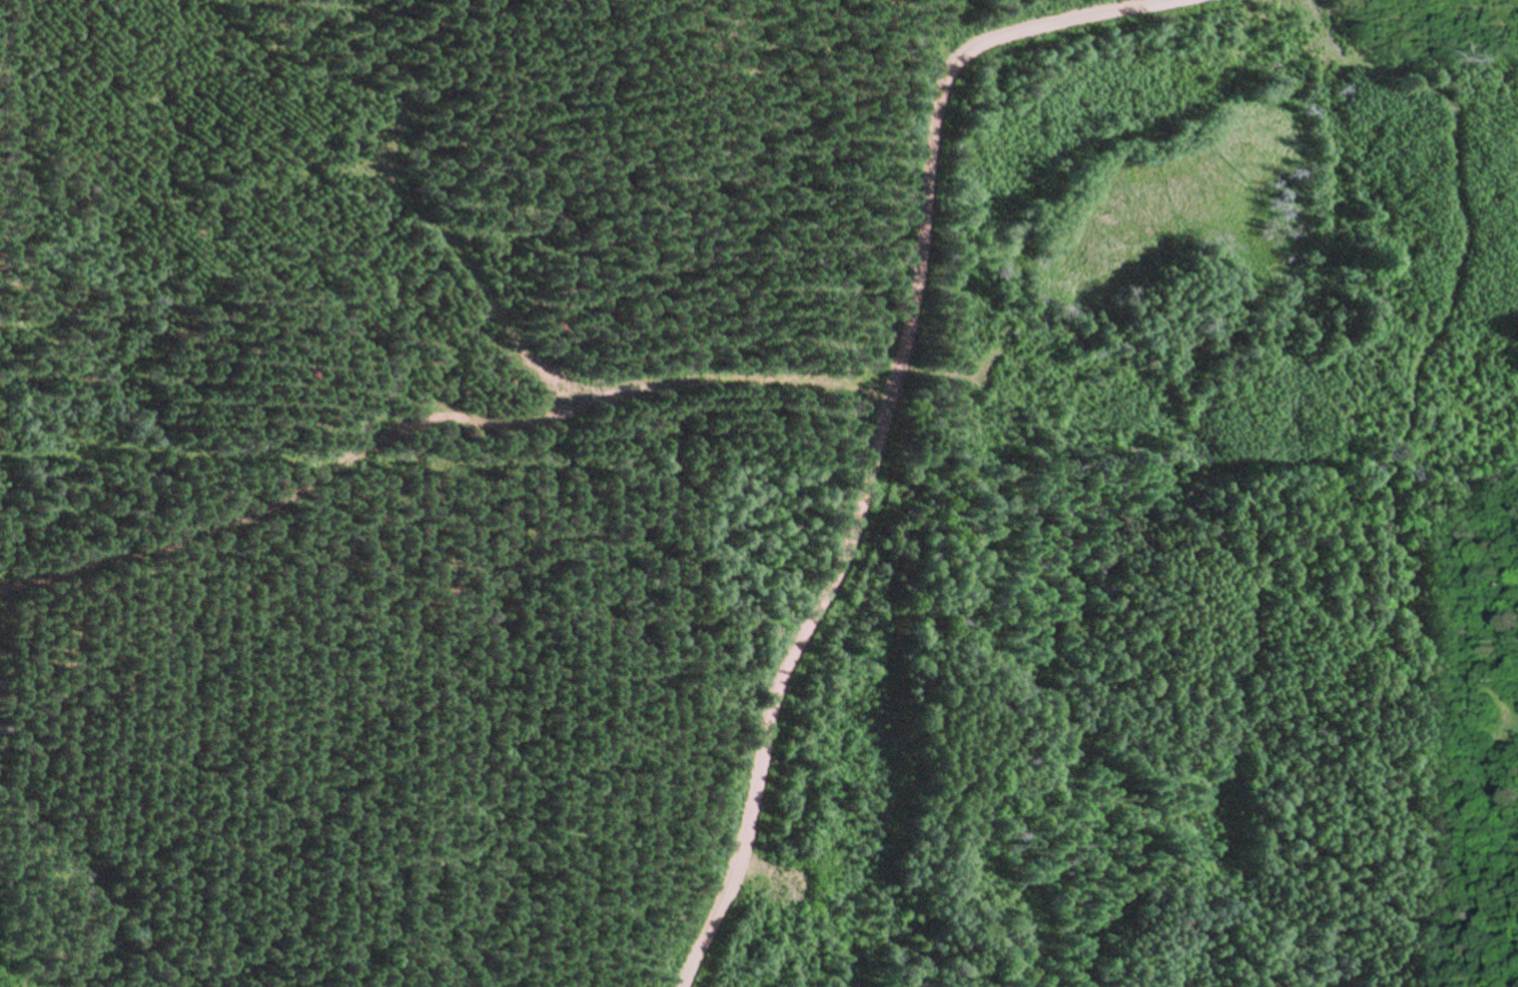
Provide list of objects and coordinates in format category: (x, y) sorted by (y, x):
road: (889, 413)

